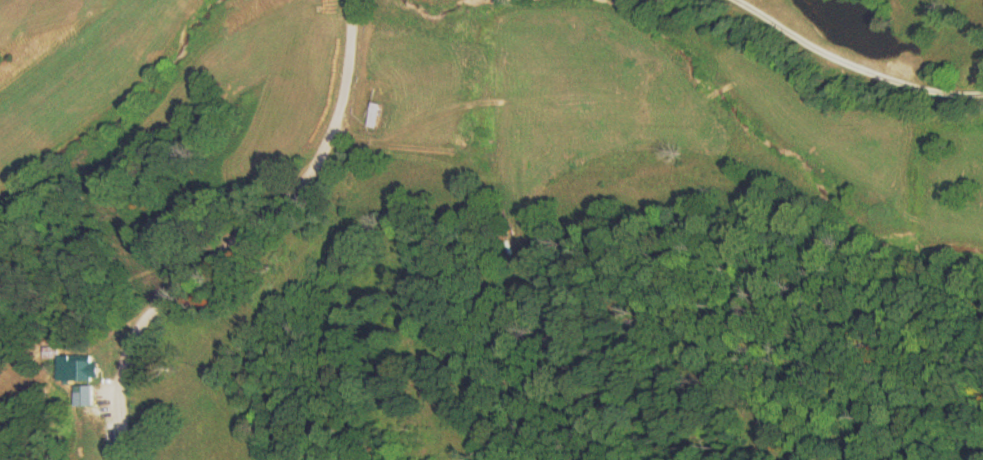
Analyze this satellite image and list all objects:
road: (402, 14)
building: (379, 114)
road: (293, 243)
building: (88, 367)
building: (89, 395)

